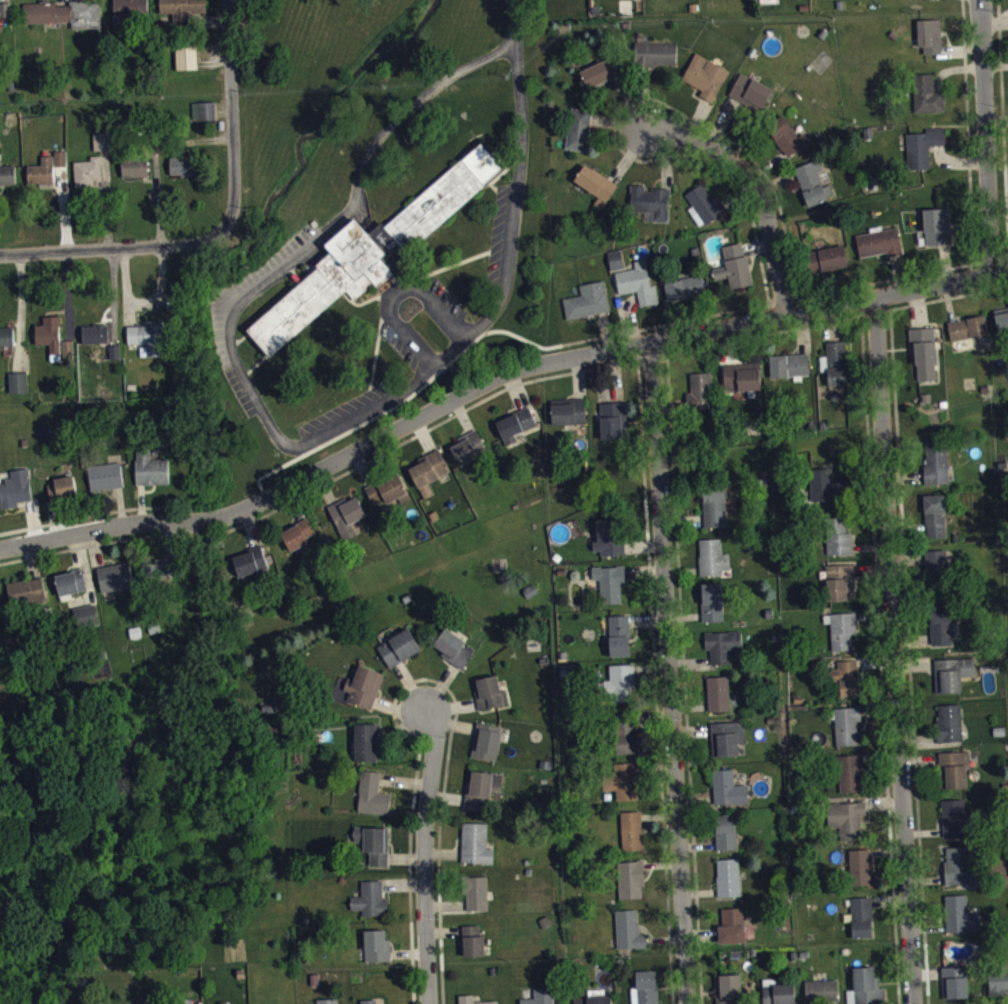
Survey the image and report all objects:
building: (924, 2)
building: (4, 9)
building: (130, 11)
building: (182, 11)
building: (63, 13)
building: (5, 18)
building: (166, 23)
road: (510, 23)
building: (931, 42)
building: (186, 54)
building: (657, 59)
building: (603, 78)
building: (707, 83)
building: (752, 98)
building: (929, 102)
road: (233, 115)
building: (204, 117)
road: (986, 135)
building: (580, 136)
building: (788, 143)
building: (104, 148)
building: (925, 154)
building: (62, 165)
building: (185, 172)
building: (136, 174)
building: (44, 178)
building: (90, 179)
building: (8, 181)
building: (597, 189)
building: (814, 189)
road: (766, 197)
building: (652, 208)
building: (706, 212)
road: (336, 227)
building: (939, 234)
road: (113, 245)
building: (881, 249)
building: (365, 256)
road: (453, 264)
building: (830, 265)
building: (617, 266)
building: (736, 273)
building: (639, 290)
road: (398, 292)
building: (686, 295)
road: (360, 303)
building: (589, 307)
road: (495, 308)
road: (444, 314)
building: (1003, 327)
building: (970, 334)
building: (100, 337)
road: (410, 340)
building: (52, 342)
building: (7, 343)
building: (149, 346)
road: (376, 353)
building: (69, 356)
building: (925, 359)
building: (839, 370)
building: (791, 372)
road: (492, 380)
building: (744, 383)
building: (19, 389)
building: (703, 397)
building: (571, 419)
building: (615, 427)
building: (517, 432)
building: (471, 454)
building: (938, 469)
building: (153, 475)
building: (431, 478)
building: (107, 483)
building: (827, 494)
building: (63, 495)
building: (17, 496)
building: (389, 496)
building: (716, 513)
building: (937, 522)
building: (349, 523)
building: (300, 541)
building: (611, 544)
building: (840, 544)
building: (712, 564)
building: (252, 568)
building: (939, 571)
building: (162, 576)
building: (117, 584)
building: (72, 589)
building: (612, 589)
building: (841, 589)
building: (27, 597)
building: (714, 609)
building: (0, 615)
building: (88, 620)
building: (944, 631)
building: (843, 637)
building: (621, 642)
road: (896, 652)
building: (724, 653)
building: (454, 654)
building: (401, 655)
road: (670, 674)
building: (954, 681)
building: (849, 684)
building: (620, 691)
building: (365, 694)
building: (492, 700)
building: (720, 701)
building: (951, 729)
building: (848, 732)
building: (628, 739)
building: (729, 745)
building: (488, 748)
building: (367, 749)
building: (957, 777)
building: (853, 780)
building: (625, 788)
building: (483, 796)
building: (730, 796)
building: (374, 801)
building: (955, 825)
building: (848, 826)
building: (633, 837)
building: (727, 839)
building: (375, 850)
building: (477, 851)
road: (425, 861)
building: (959, 872)
building: (862, 874)
building: (730, 884)
building: (632, 886)
building: (478, 900)
building: (372, 907)
building: (962, 922)
building: (863, 924)
building: (734, 932)
building: (631, 937)
building: (475, 948)
building: (379, 953)
building: (957, 988)
building: (999, 989)
building: (867, 990)
building: (647, 991)
building: (730, 992)
building: (823, 995)
building: (779, 996)
building: (545, 999)
building: (468, 1002)
building: (600, 1003)

